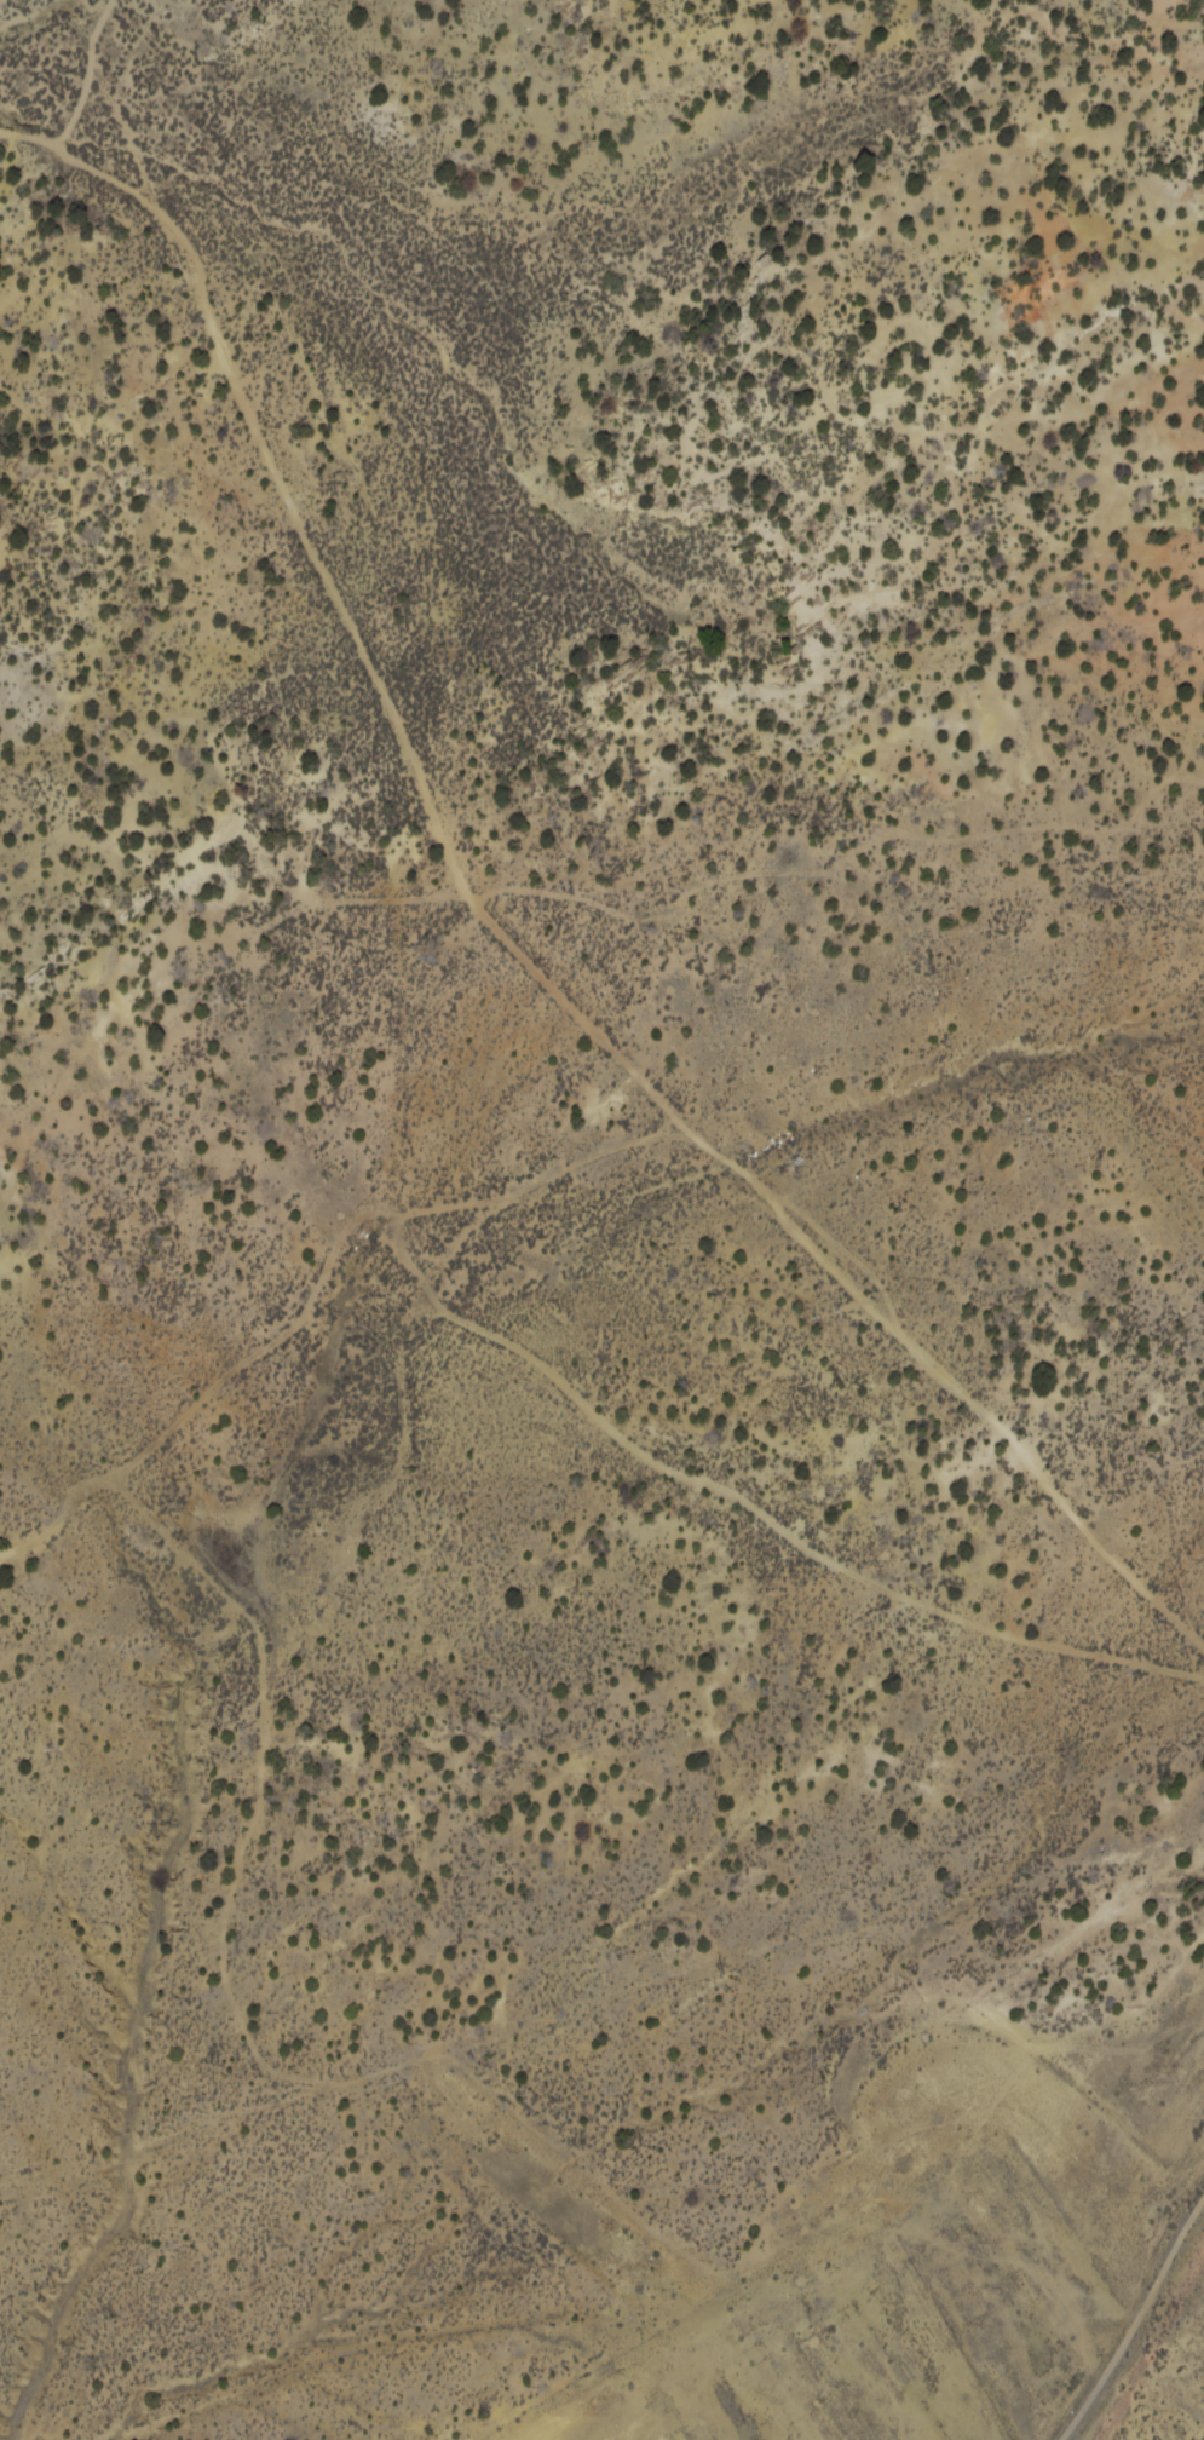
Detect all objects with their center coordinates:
power tower: (714, 1974)
power tower: (94, 2158)
road: (1157, 2395)

